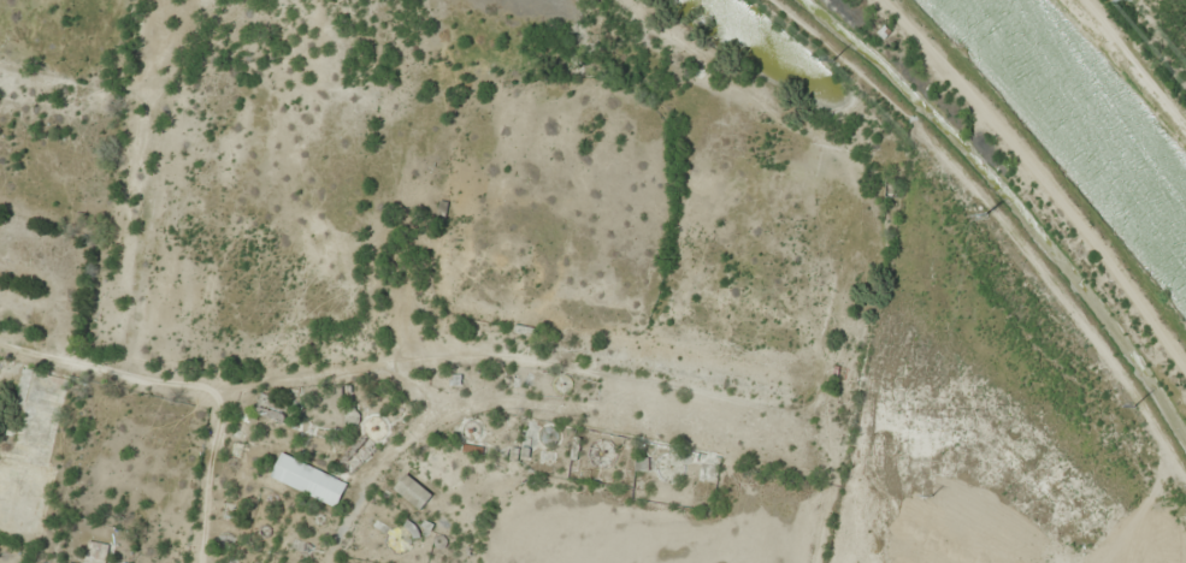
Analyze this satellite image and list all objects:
power tower: (846, 64)
power tower: (996, 207)
park: (418, 286)
power tower: (1144, 405)
power tower: (952, 490)

